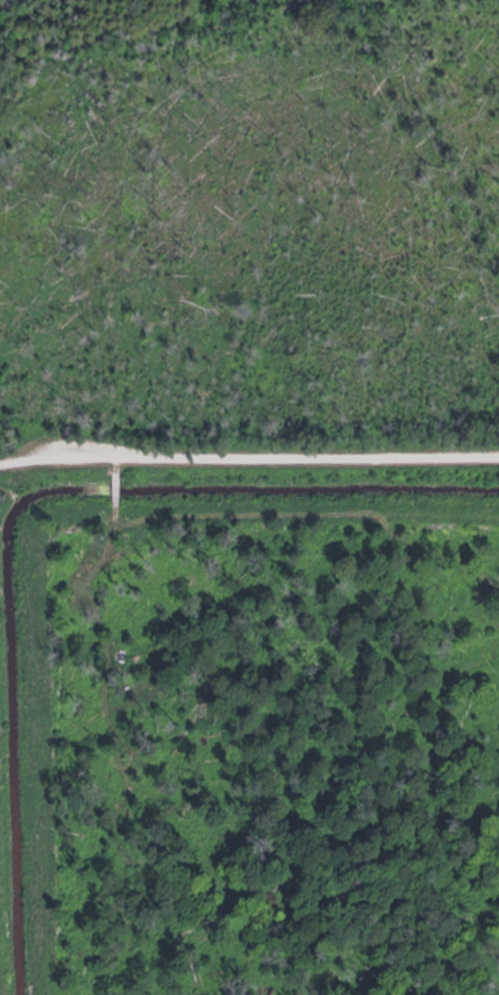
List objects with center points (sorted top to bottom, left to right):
road: (249, 456)

